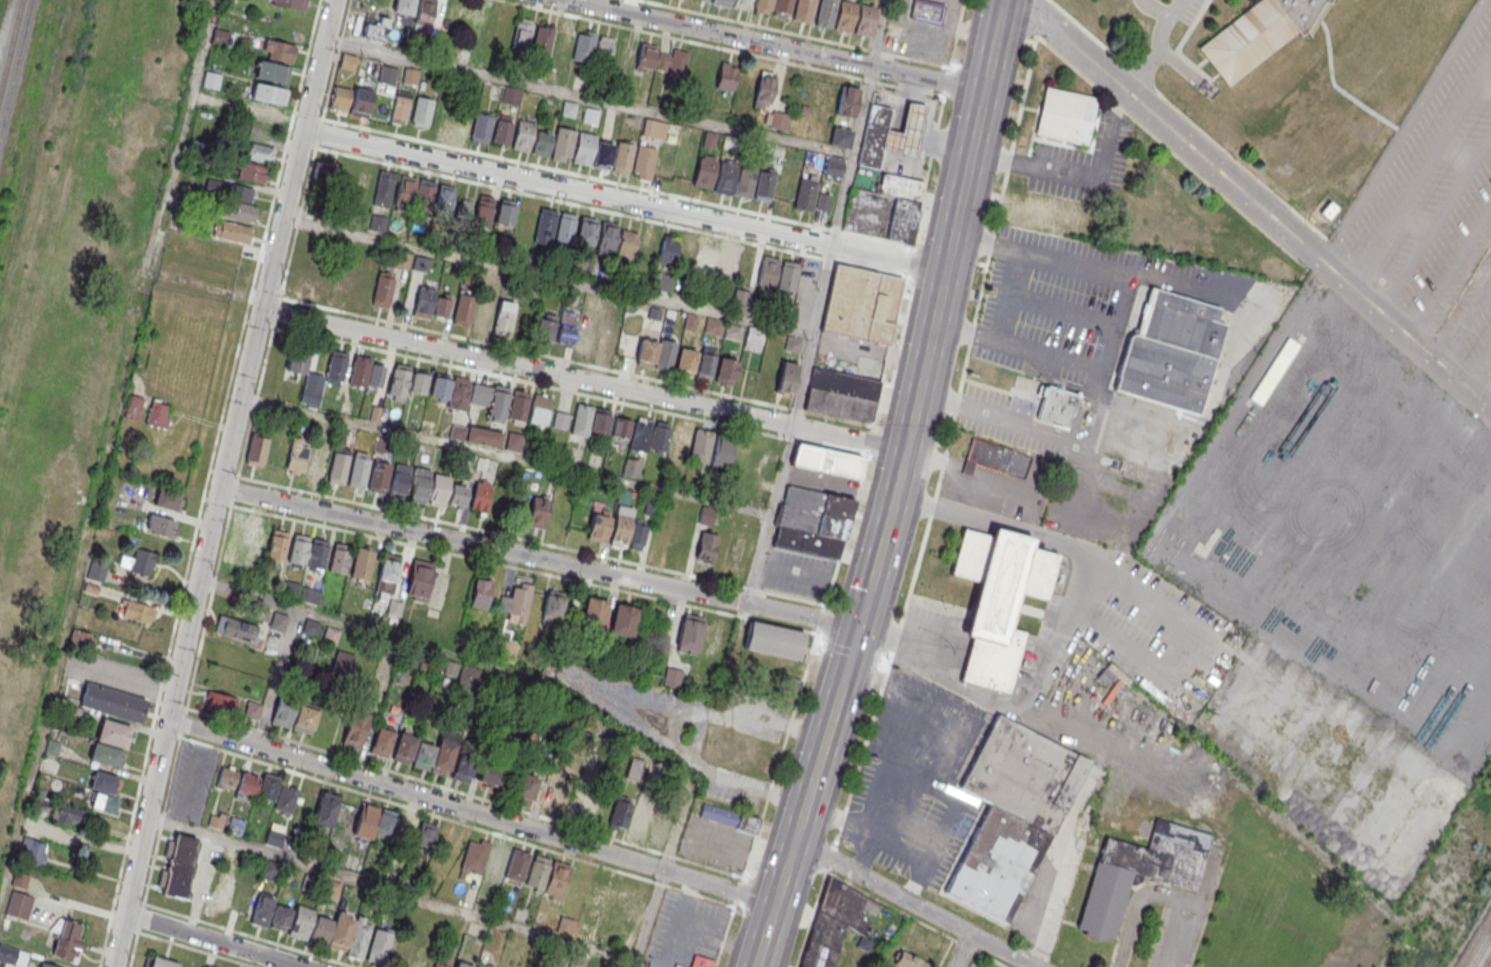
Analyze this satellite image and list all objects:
building: (721, 2)
building: (290, 4)
building: (741, 4)
building: (761, 6)
road: (1042, 6)
building: (404, 7)
road: (1154, 7)
building: (782, 8)
building: (803, 11)
building: (425, 12)
building: (825, 13)
building: (845, 15)
building: (464, 18)
building: (864, 20)
road: (753, 24)
building: (375, 27)
road: (878, 33)
building: (1256, 34)
building: (521, 37)
building: (222, 38)
road: (683, 39)
building: (542, 42)
road: (1158, 43)
road: (779, 45)
road: (992, 46)
building: (584, 47)
parking lot: (1160, 48)
building: (603, 49)
building: (279, 50)
building: (459, 54)
railway: (13, 58)
building: (645, 59)
building: (348, 61)
building: (673, 67)
building: (272, 72)
building: (387, 74)
building: (557, 75)
building: (410, 76)
building: (726, 76)
railway: (18, 78)
building: (211, 80)
building: (696, 83)
building: (763, 90)
building: (269, 93)
building: (511, 95)
building: (340, 99)
road: (589, 99)
building: (847, 101)
building: (359, 105)
building: (400, 108)
building: (266, 113)
building: (420, 113)
building: (590, 115)
building: (1065, 115)
building: (776, 120)
building: (461, 125)
road: (1408, 128)
building: (480, 129)
building: (503, 129)
building: (654, 129)
building: (905, 131)
building: (521, 136)
building: (873, 136)
building: (840, 137)
building: (540, 145)
building: (562, 145)
building: (582, 149)
railway: (35, 152)
building: (258, 153)
road: (853, 156)
building: (601, 158)
building: (622, 159)
building: (643, 163)
parking lot: (1080, 164)
building: (833, 166)
road: (1423, 171)
building: (251, 172)
building: (333, 173)
building: (704, 174)
road: (1082, 174)
building: (363, 180)
building: (724, 180)
building: (744, 182)
building: (764, 187)
building: (383, 188)
building: (404, 193)
building: (805, 194)
building: (423, 197)
building: (444, 200)
parking lot: (1436, 200)
road: (623, 201)
building: (239, 203)
building: (823, 204)
road: (1270, 207)
building: (884, 209)
building: (464, 210)
building: (483, 211)
building: (505, 212)
building: (1029, 214)
road: (1438, 221)
building: (546, 222)
building: (378, 223)
building: (566, 227)
building: (232, 231)
building: (586, 231)
building: (607, 236)
building: (627, 243)
building: (647, 247)
building: (678, 254)
building: (727, 262)
building: (768, 271)
road: (1453, 272)
building: (787, 276)
building: (299, 279)
road: (546, 280)
building: (321, 284)
building: (382, 291)
building: (424, 302)
building: (859, 304)
building: (463, 310)
parking lot: (1107, 310)
building: (483, 313)
building: (503, 319)
road: (1467, 319)
road: (1118, 325)
building: (713, 326)
building: (545, 328)
building: (566, 328)
road: (810, 336)
building: (584, 337)
building: (753, 338)
building: (607, 341)
parking lot: (848, 347)
building: (1169, 351)
building: (647, 352)
building: (665, 355)
road: (923, 360)
building: (297, 361)
building: (685, 362)
road: (1226, 363)
building: (705, 366)
road: (1481, 367)
building: (726, 371)
building: (366, 372)
building: (786, 377)
building: (324, 378)
road: (581, 380)
building: (407, 381)
building: (470, 394)
building: (841, 394)
building: (1055, 405)
building: (518, 406)
building: (134, 407)
building: (539, 408)
building: (157, 413)
building: (561, 420)
building: (590, 421)
building: (631, 431)
road: (1030, 431)
parking lot: (1092, 433)
building: (475, 435)
building: (660, 437)
building: (513, 441)
building: (680, 441)
building: (700, 445)
building: (257, 450)
building: (721, 452)
road: (505, 453)
building: (988, 455)
building: (297, 456)
building: (340, 457)
building: (825, 460)
building: (318, 464)
building: (631, 467)
building: (359, 470)
building: (378, 476)
building: (400, 480)
parking lot: (821, 481)
road: (220, 482)
road: (836, 483)
building: (419, 485)
building: (439, 490)
building: (457, 495)
building: (480, 495)
parking lot: (1054, 497)
building: (168, 500)
building: (538, 511)
building: (557, 514)
building: (706, 515)
road: (767, 515)
building: (811, 521)
building: (159, 525)
building: (621, 526)
building: (598, 527)
building: (637, 535)
building: (237, 542)
building: (267, 544)
building: (706, 546)
building: (299, 549)
building: (318, 553)
building: (339, 557)
road: (537, 558)
building: (138, 562)
building: (362, 563)
building: (96, 572)
parking lot: (796, 573)
building: (387, 576)
building: (418, 580)
road: (1089, 586)
building: (291, 589)
building: (481, 593)
building: (311, 595)
building: (998, 599)
building: (516, 603)
building: (552, 607)
building: (136, 612)
building: (593, 613)
building: (623, 620)
building: (278, 621)
traffic signals: (857, 628)
building: (236, 629)
road: (292, 630)
building: (690, 633)
building: (83, 639)
building: (773, 640)
road: (933, 644)
road: (892, 647)
building: (226, 651)
road: (1204, 660)
building: (342, 664)
building: (1107, 674)
building: (468, 676)
building: (788, 684)
building: (112, 702)
building: (221, 702)
building: (253, 710)
building: (282, 712)
building: (305, 718)
building: (355, 729)
building: (382, 741)
building: (110, 742)
building: (404, 748)
building: (436, 754)
building: (634, 768)
building: (463, 771)
building: (491, 775)
building: (227, 777)
parking lot: (918, 780)
building: (257, 784)
building: (525, 787)
building: (104, 792)
road: (806, 797)
building: (286, 799)
building: (555, 799)
building: (579, 804)
building: (601, 806)
building: (325, 810)
road: (471, 812)
building: (620, 812)
building: (1012, 812)
building: (65, 814)
building: (729, 817)
building: (639, 820)
building: (375, 822)
building: (660, 825)
building: (33, 827)
building: (406, 828)
building: (426, 834)
building: (274, 837)
parking lot: (714, 844)
building: (484, 860)
building: (517, 865)
building: (178, 866)
building: (271, 871)
building: (1141, 871)
building: (548, 876)
building: (596, 891)
road: (392, 892)
road: (1162, 893)
building: (616, 898)
building: (220, 899)
road: (1057, 900)
road: (913, 903)
building: (19, 906)
building: (281, 917)
road: (650, 917)
parking lot: (1170, 918)
road: (916, 920)
building: (834, 922)
parking lot: (684, 930)
building: (343, 934)
road: (250, 935)
building: (67, 939)
road: (213, 940)
railway: (1474, 940)
building: (380, 944)
road: (197, 948)
road: (963, 950)
railway: (1482, 952)
building: (422, 960)
building: (908, 960)
railway: (1487, 961)
building: (161, 962)
building: (442, 962)
building: (701, 962)
building: (463, 964)
building: (46, 965)
building: (483, 965)

